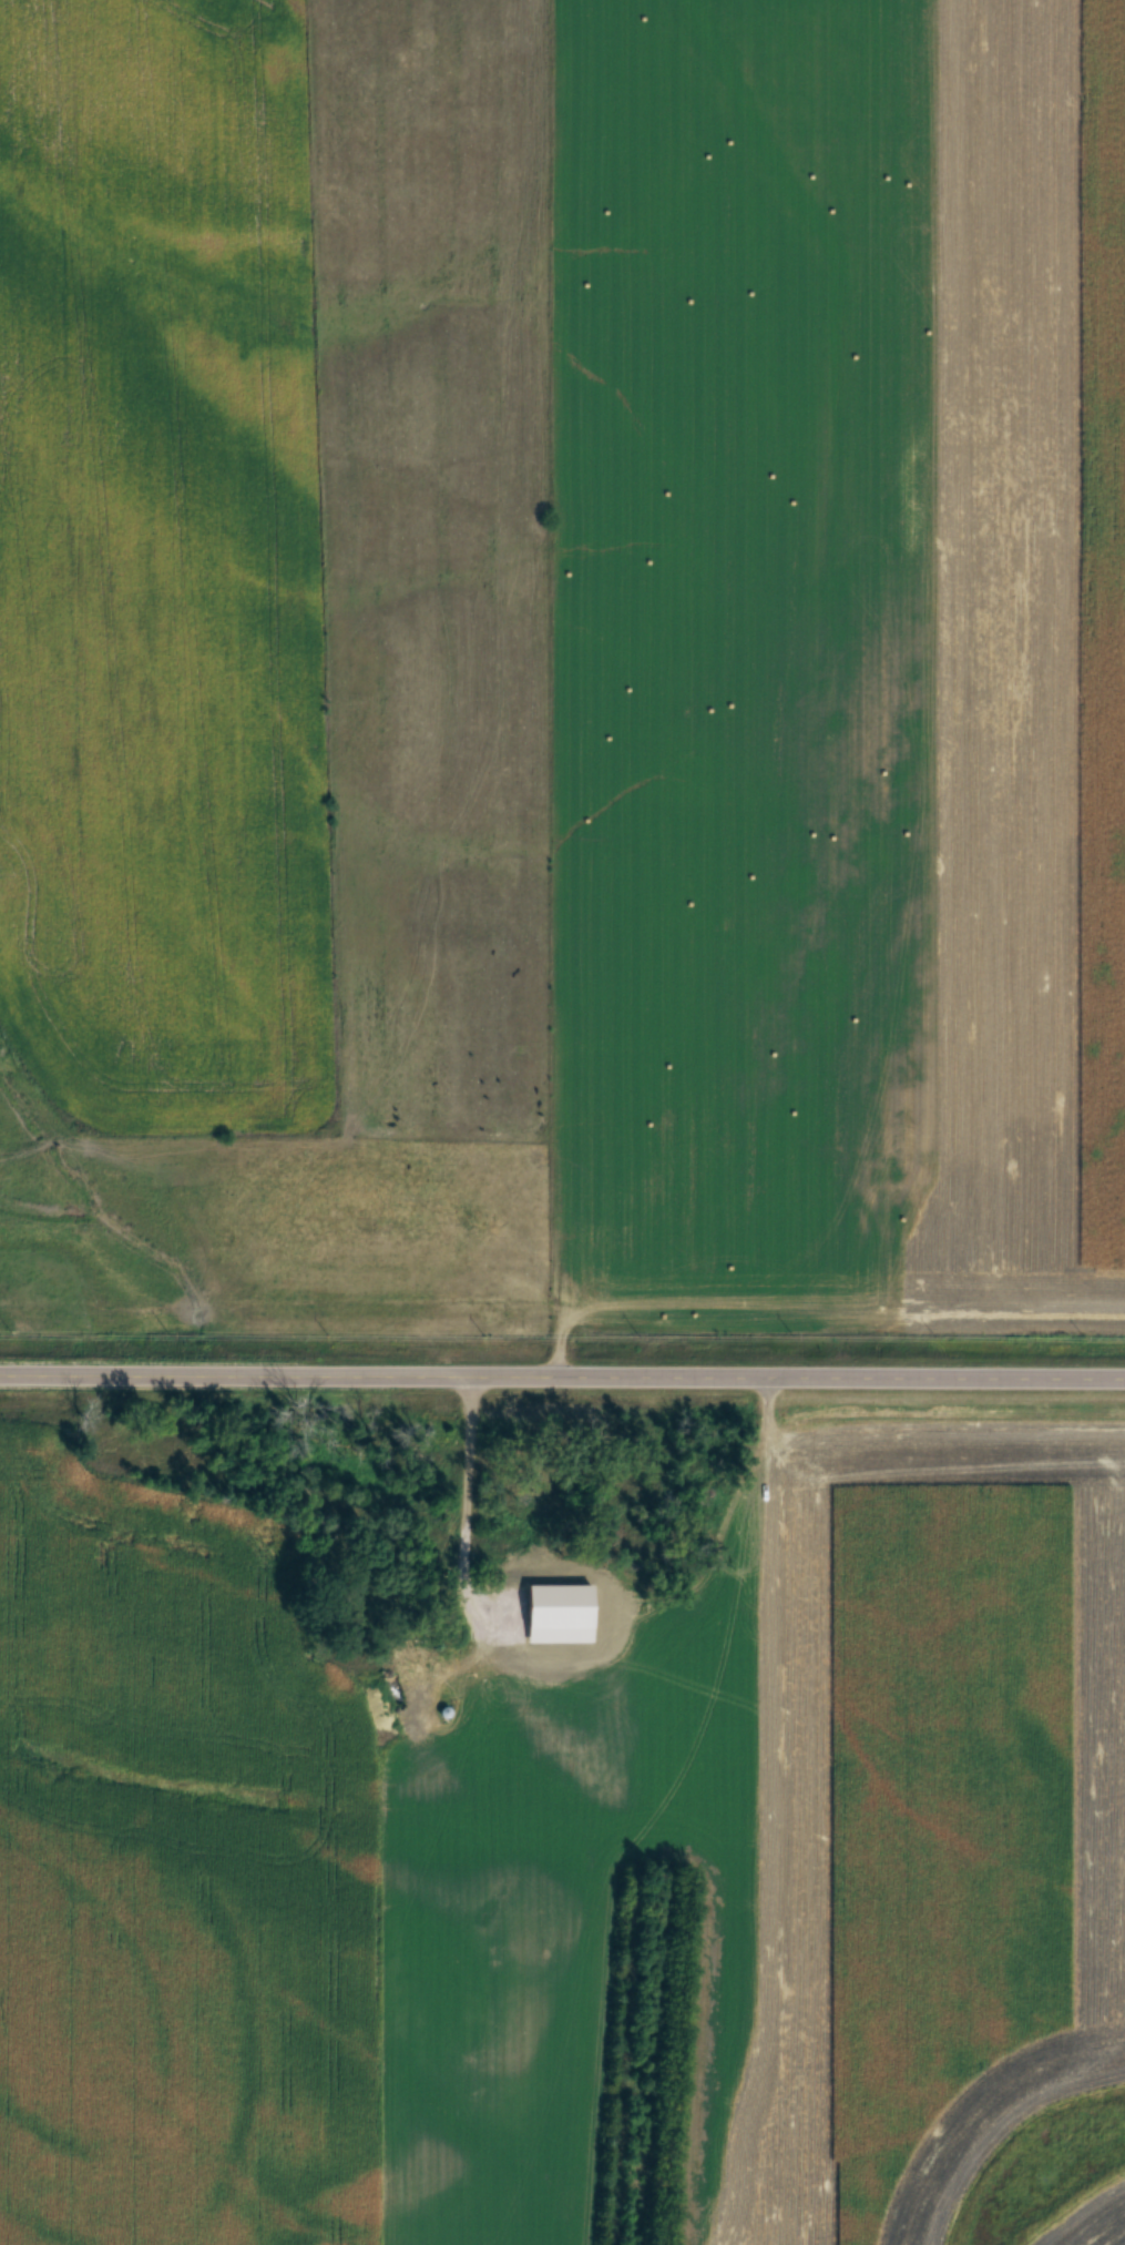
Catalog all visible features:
road: (562, 1371)

